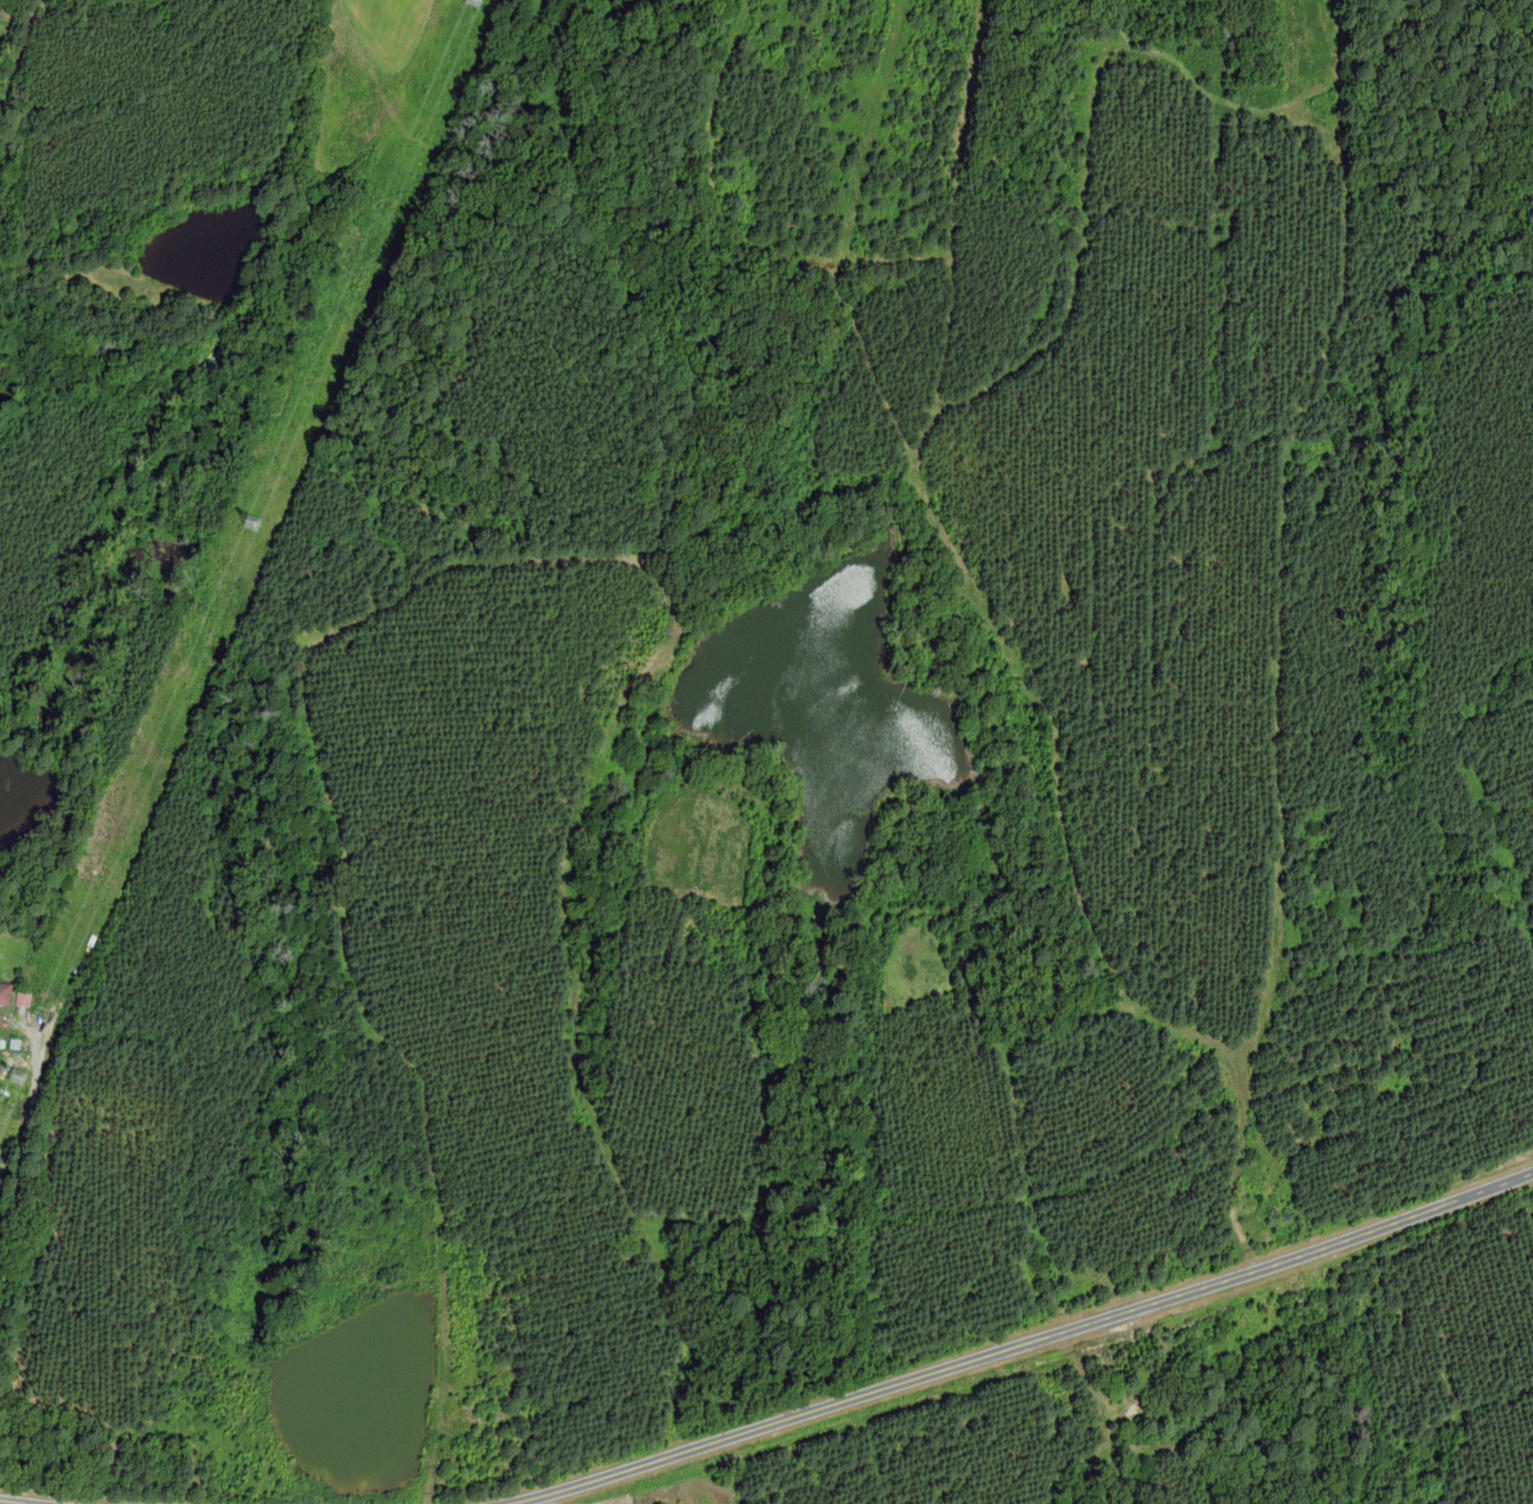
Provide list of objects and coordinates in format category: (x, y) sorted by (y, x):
power tower: (477, 0)
road: (1308, 92)
crop: (144, 149)
road: (512, 173)
power tower: (257, 525)
building: (5, 992)
building: (23, 998)
power tower: (26, 1076)
road: (1019, 1342)
road: (16, 1502)

